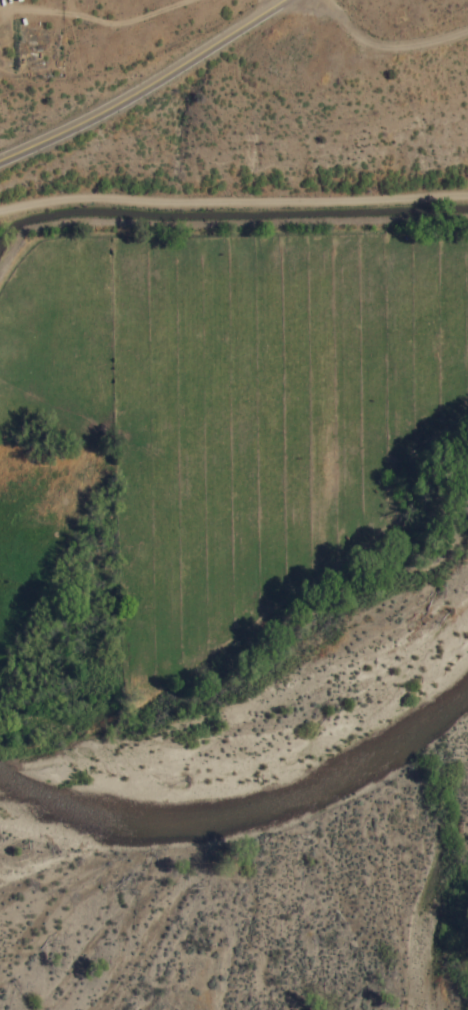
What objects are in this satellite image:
road: (106, 47)
road: (146, 88)
road: (234, 247)
river: (216, 661)

